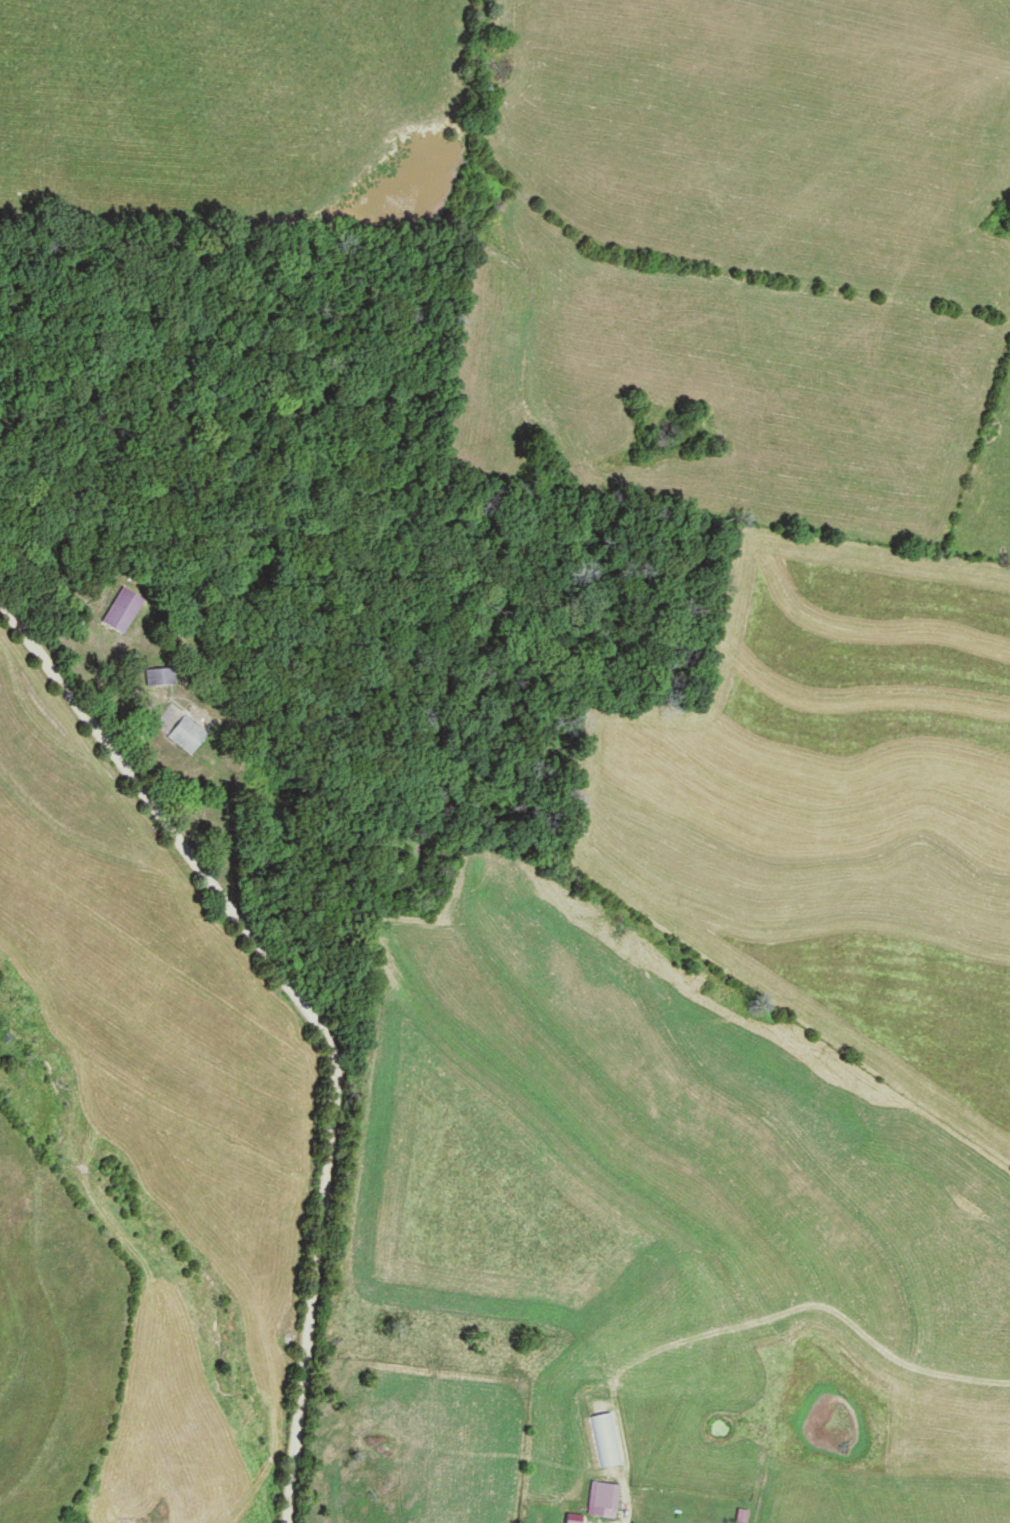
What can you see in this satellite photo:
building: (122, 611)
building: (161, 676)
building: (189, 734)
road: (296, 1030)
building: (605, 1439)
building: (603, 1499)
building: (741, 1515)

